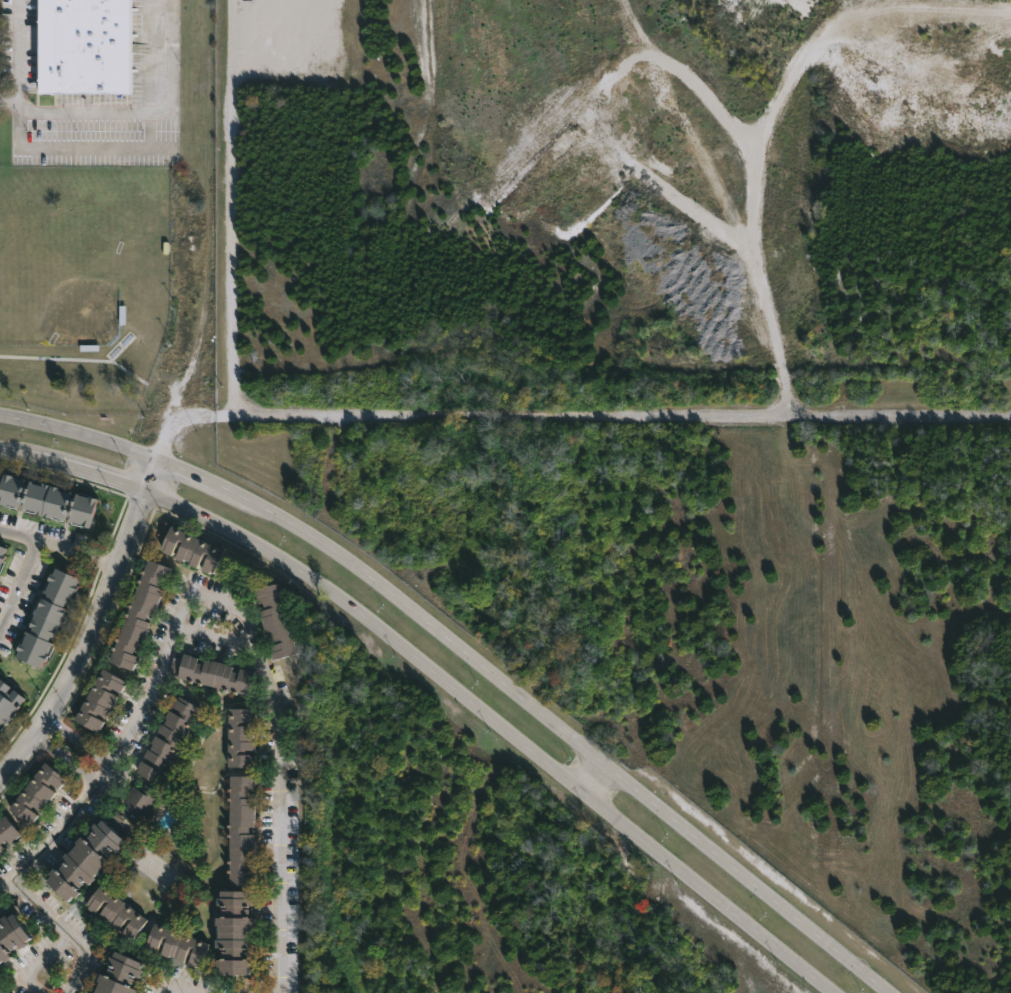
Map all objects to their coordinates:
building: (82, 45)
road: (17, 52)
road: (136, 110)
airport: (614, 189)
road: (570, 416)
road: (81, 436)
road: (20, 452)
road: (96, 473)
road: (157, 479)
road: (196, 480)
building: (45, 501)
road: (76, 551)
building: (191, 551)
building: (1, 554)
road: (27, 567)
building: (139, 616)
building: (46, 619)
building: (274, 622)
road: (88, 643)
building: (212, 671)
building: (99, 698)
building: (7, 700)
road: (502, 727)
road: (564, 733)
building: (240, 736)
road: (128, 737)
building: (168, 738)
road: (79, 742)
road: (69, 759)
road: (592, 777)
road: (0, 778)
building: (36, 792)
road: (284, 795)
building: (140, 799)
building: (7, 829)
building: (241, 830)
building: (1, 846)
building: (83, 859)
building: (115, 911)
building: (234, 931)
road: (68, 932)
building: (10, 934)
building: (175, 943)
road: (40, 961)
building: (119, 975)
building: (0, 990)

